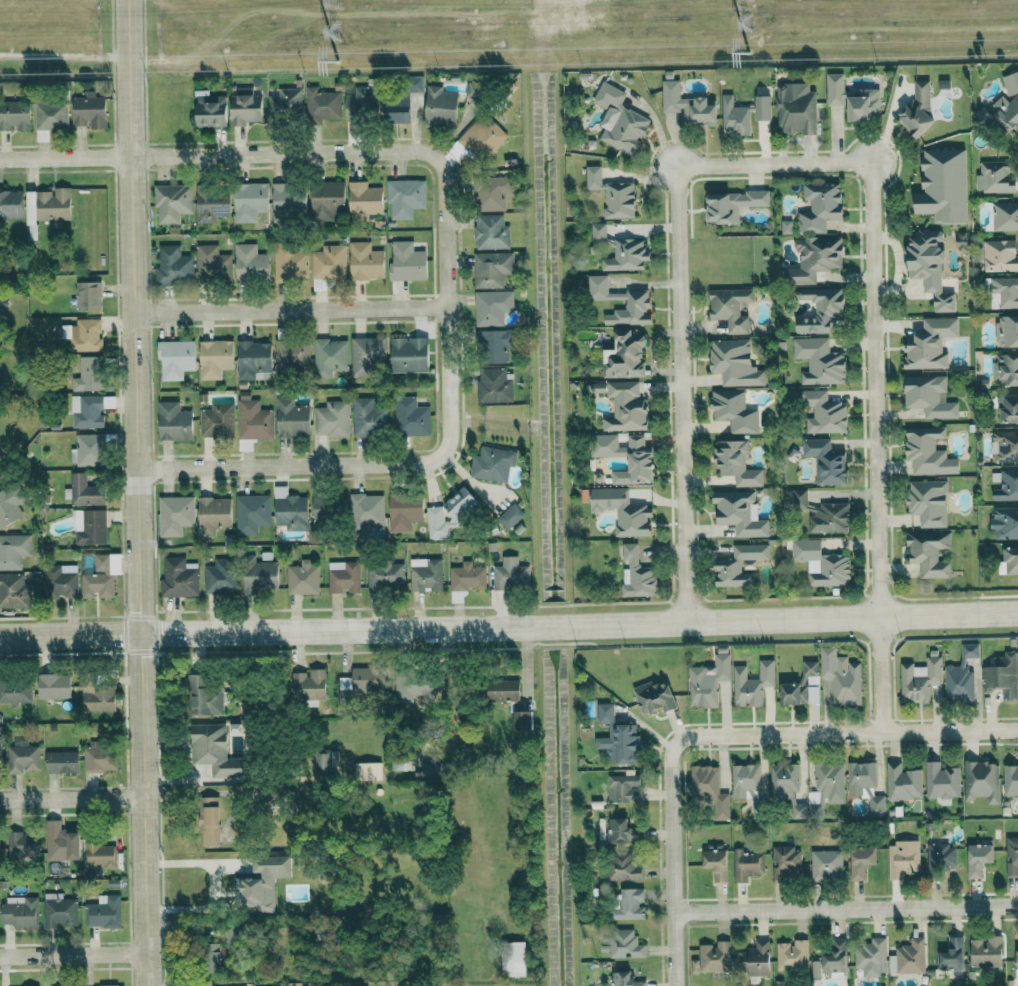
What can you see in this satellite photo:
power tower: (335, 2)
power tower: (747, 22)
power tower: (335, 30)
power tower: (747, 52)
power tower: (335, 60)
building: (1011, 83)
building: (416, 84)
building: (835, 89)
building: (363, 103)
building: (286, 104)
building: (863, 104)
building: (322, 105)
building: (687, 105)
building: (440, 107)
building: (245, 108)
building: (796, 108)
building: (397, 109)
building: (918, 110)
building: (89, 111)
building: (211, 111)
building: (1005, 112)
building: (743, 114)
building: (14, 115)
building: (51, 115)
building: (619, 120)
building: (482, 137)
road: (296, 153)
building: (994, 177)
building: (943, 186)
building: (491, 193)
building: (613, 194)
building: (405, 197)
building: (289, 198)
building: (327, 199)
building: (364, 200)
building: (173, 202)
building: (212, 203)
building: (11, 204)
building: (48, 205)
building: (732, 205)
building: (820, 207)
building: (1005, 216)
building: (787, 227)
building: (491, 232)
building: (621, 251)
building: (1000, 256)
building: (815, 259)
building: (366, 261)
building: (291, 262)
building: (329, 262)
building: (407, 262)
building: (251, 263)
building: (213, 265)
building: (174, 266)
building: (930, 266)
building: (492, 269)
building: (601, 289)
building: (1004, 293)
building: (88, 296)
building: (492, 307)
building: (731, 308)
building: (820, 309)
building: (632, 310)
road: (295, 313)
building: (1007, 331)
building: (83, 335)
building: (930, 344)
road: (680, 345)
building: (493, 347)
building: (367, 355)
building: (409, 355)
building: (625, 355)
building: (292, 356)
building: (330, 357)
building: (176, 358)
building: (215, 358)
building: (253, 359)
building: (820, 361)
building: (735, 363)
building: (1006, 369)
building: (88, 374)
building: (494, 386)
building: (598, 388)
building: (929, 396)
road: (874, 399)
building: (626, 407)
building: (1008, 409)
building: (87, 411)
building: (734, 411)
building: (824, 412)
building: (411, 417)
building: (292, 418)
building: (368, 418)
building: (253, 419)
building: (332, 419)
building: (174, 422)
building: (217, 422)
building: (1005, 447)
building: (87, 450)
building: (928, 452)
building: (827, 461)
building: (640, 463)
building: (493, 464)
building: (736, 464)
road: (369, 466)
building: (1005, 485)
building: (85, 491)
road: (143, 492)
building: (929, 502)
building: (460, 504)
building: (10, 506)
building: (290, 510)
building: (367, 511)
building: (623, 511)
building: (404, 512)
building: (252, 513)
building: (740, 513)
building: (822, 514)
building: (175, 515)
building: (213, 515)
building: (511, 516)
building: (1006, 522)
building: (437, 523)
building: (90, 527)
building: (13, 550)
building: (930, 553)
building: (1009, 562)
building: (822, 563)
building: (739, 565)
building: (426, 574)
building: (511, 574)
building: (637, 574)
building: (259, 575)
building: (385, 575)
building: (221, 576)
building: (101, 577)
building: (344, 577)
building: (179, 578)
building: (303, 578)
building: (466, 580)
building: (61, 581)
building: (18, 590)
road: (508, 622)
building: (970, 650)
building: (1002, 675)
building: (842, 676)
building: (920, 679)
building: (708, 680)
building: (367, 681)
building: (959, 682)
building: (752, 683)
building: (309, 684)
building: (54, 686)
building: (803, 686)
building: (503, 690)
building: (15, 691)
building: (935, 692)
building: (408, 693)
building: (96, 695)
building: (204, 697)
building: (655, 697)
building: (605, 713)
building: (522, 719)
road: (845, 733)
building: (620, 742)
building: (214, 751)
building: (0, 753)
building: (99, 757)
building: (23, 758)
building: (61, 761)
building: (325, 761)
building: (432, 770)
building: (368, 771)
building: (744, 779)
building: (982, 780)
building: (903, 782)
building: (942, 782)
building: (786, 785)
building: (865, 785)
building: (826, 787)
building: (624, 789)
building: (709, 790)
road: (71, 799)
building: (209, 821)
building: (622, 829)
building: (54, 839)
building: (21, 843)
building: (99, 854)
building: (940, 855)
building: (1012, 856)
building: (903, 858)
building: (979, 858)
building: (786, 861)
building: (861, 861)
building: (717, 863)
road: (673, 864)
building: (747, 864)
building: (826, 864)
building: (623, 867)
building: (261, 882)
road: (214, 883)
building: (630, 904)
road: (846, 909)
building: (58, 910)
building: (19, 911)
building: (103, 911)
building: (625, 944)
building: (986, 951)
building: (953, 953)
building: (792, 955)
building: (871, 956)
building: (216, 957)
building: (909, 957)
building: (514, 958)
building: (713, 958)
road: (74, 959)
building: (756, 959)
building: (836, 959)
building: (1017, 961)
building: (816, 968)
building: (625, 979)
building: (61, 985)
building: (110, 985)
building: (272, 985)

